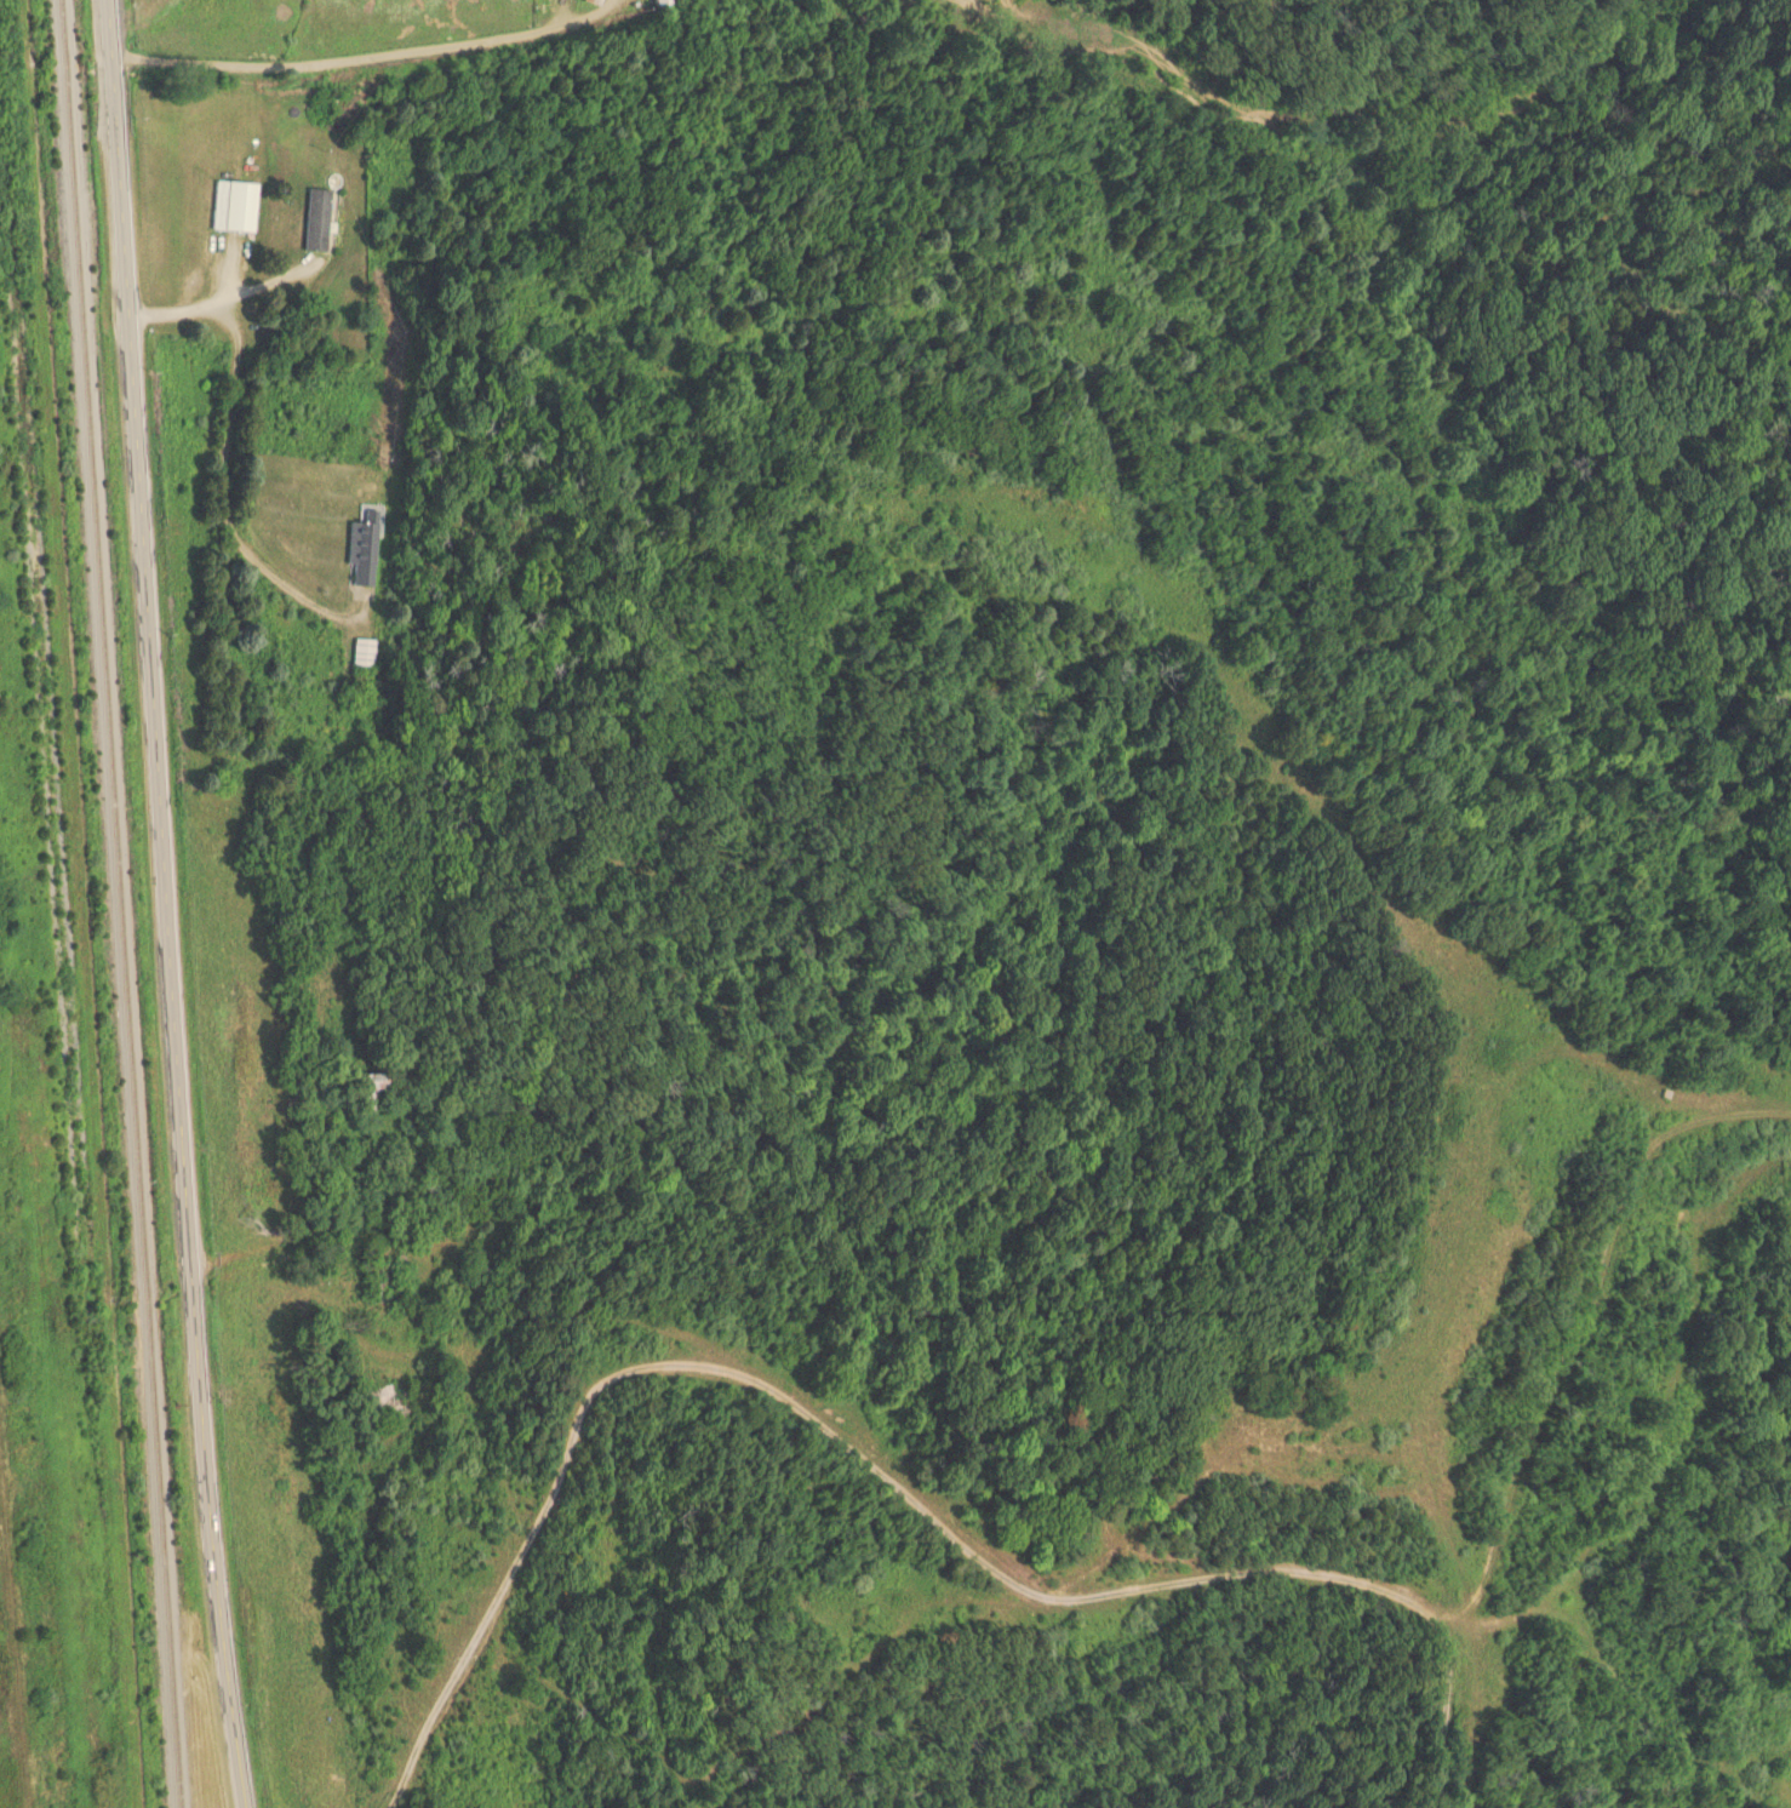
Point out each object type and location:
building: (596, 1)
road: (1141, 15)
road: (416, 45)
road: (53, 52)
building: (235, 205)
building: (319, 219)
road: (247, 290)
road: (225, 448)
building: (364, 553)
railway: (113, 904)
road: (167, 904)
building: (371, 1087)
building: (390, 1401)
road: (883, 1480)

